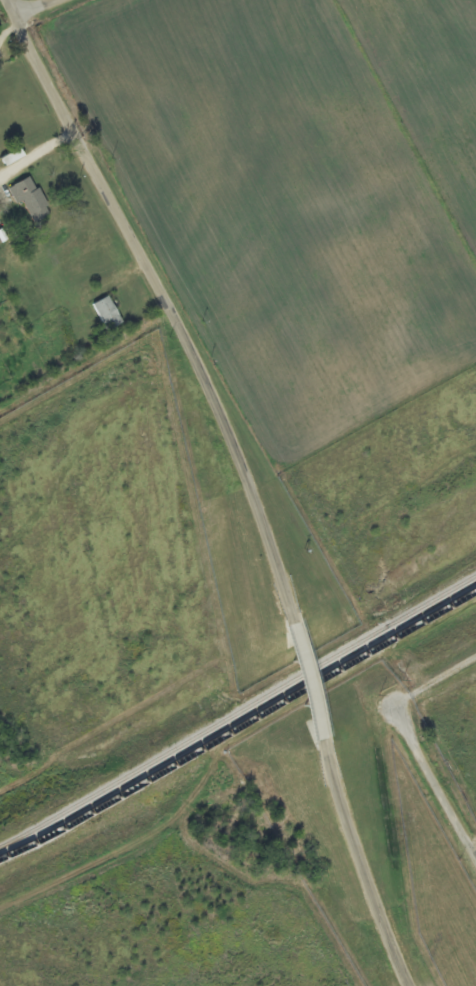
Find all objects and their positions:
road: (33, 9)
road: (35, 157)
building: (31, 200)
road: (159, 303)
building: (108, 314)
road: (434, 683)
road: (296, 688)
railway: (238, 710)
power plant: (129, 714)
railway: (239, 726)
road: (434, 784)
road: (353, 871)

